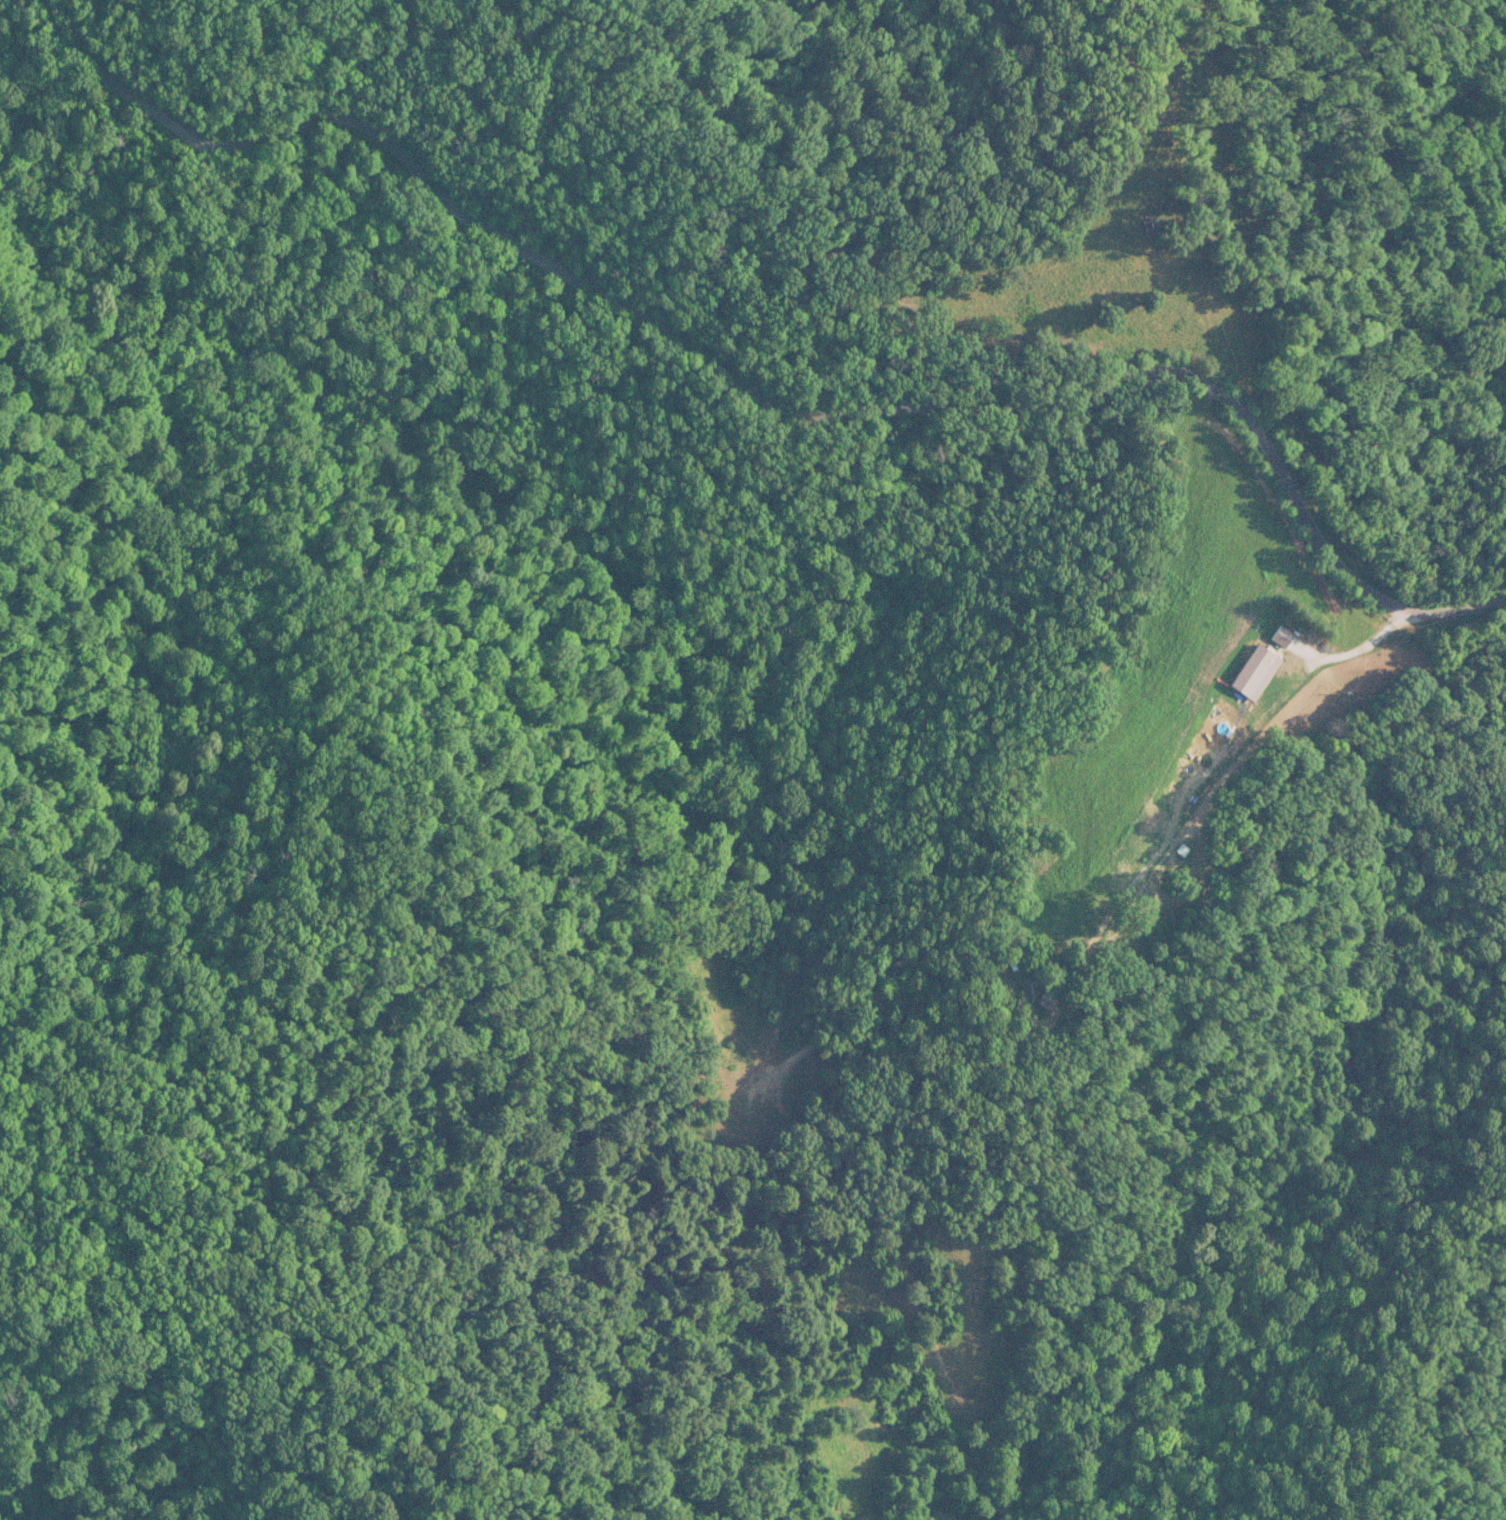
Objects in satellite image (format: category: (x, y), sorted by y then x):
road: (770, 365)
building: (1046, 1001)

